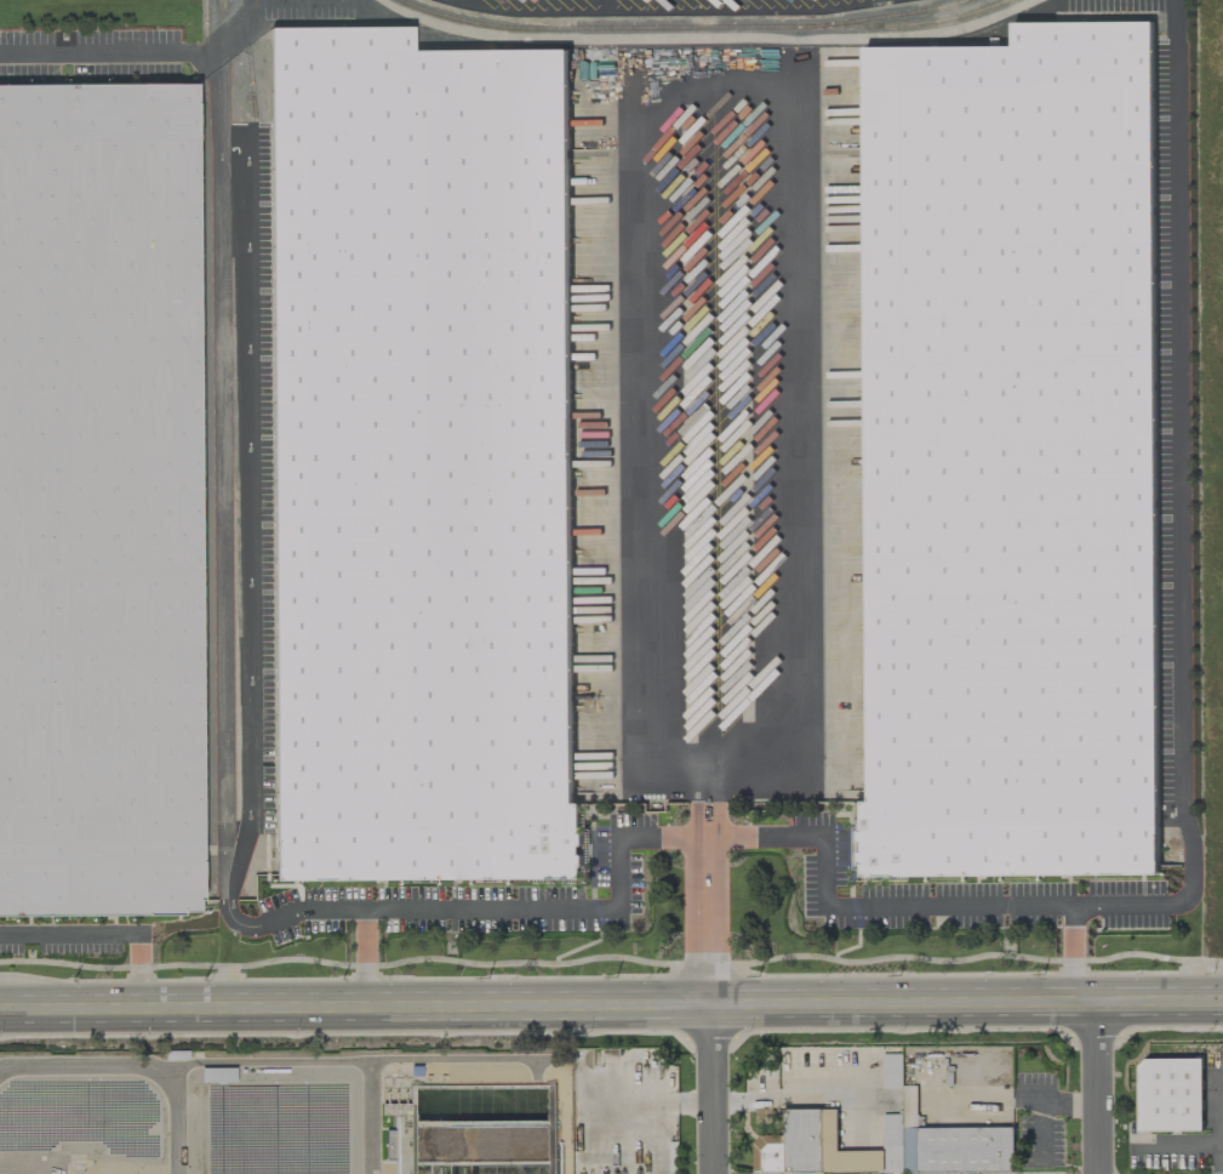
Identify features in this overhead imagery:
railway: (891, 15)
railway: (701, 27)
road: (92, 52)
road: (741, 73)
railway: (236, 374)
railway: (264, 417)
building: (1010, 457)
building: (423, 460)
railway: (256, 474)
building: (98, 500)
road: (1177, 507)
road: (720, 809)
road: (698, 810)
road: (710, 831)
road: (715, 834)
road: (711, 922)
road: (108, 933)
road: (611, 1009)
building: (892, 1071)
building: (217, 1075)
road: (1095, 1088)
road: (713, 1090)
building: (1171, 1095)
road: (742, 1099)
road: (818, 1099)
wastewater plant: (287, 1112)
road: (1048, 1117)
building: (423, 1146)
building: (884, 1146)

